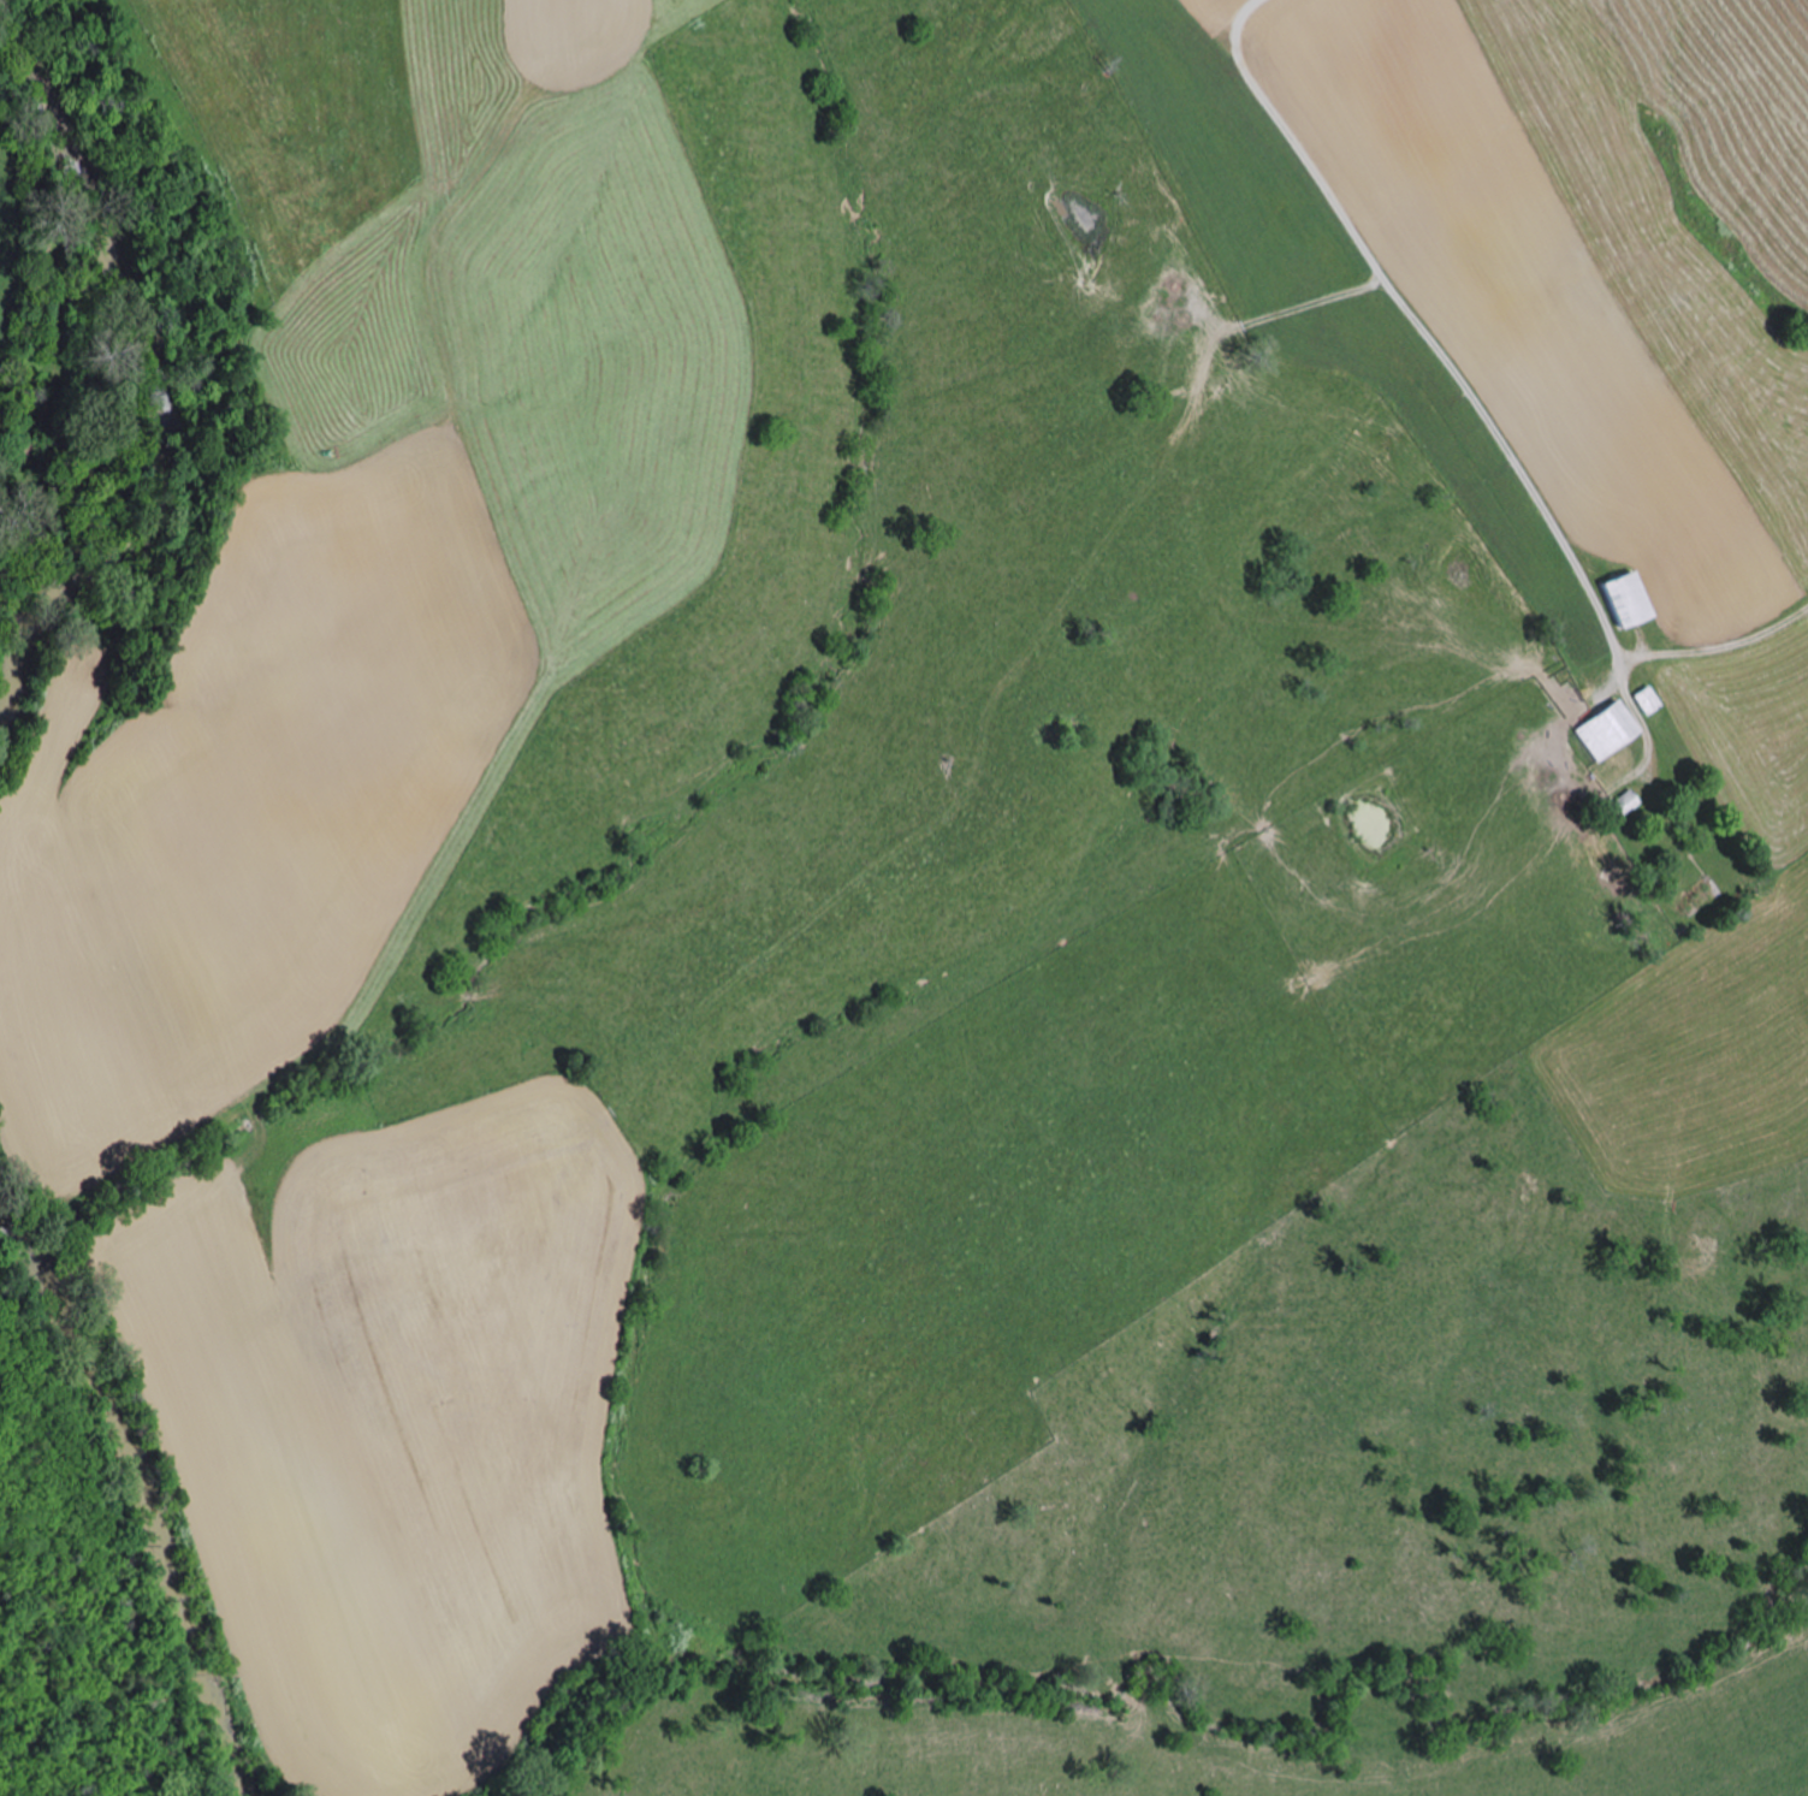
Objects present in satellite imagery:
river: (159, 380)
building: (1623, 601)
road: (1661, 654)
building: (1647, 701)
building: (1606, 731)
building: (1629, 805)
river: (141, 1489)

